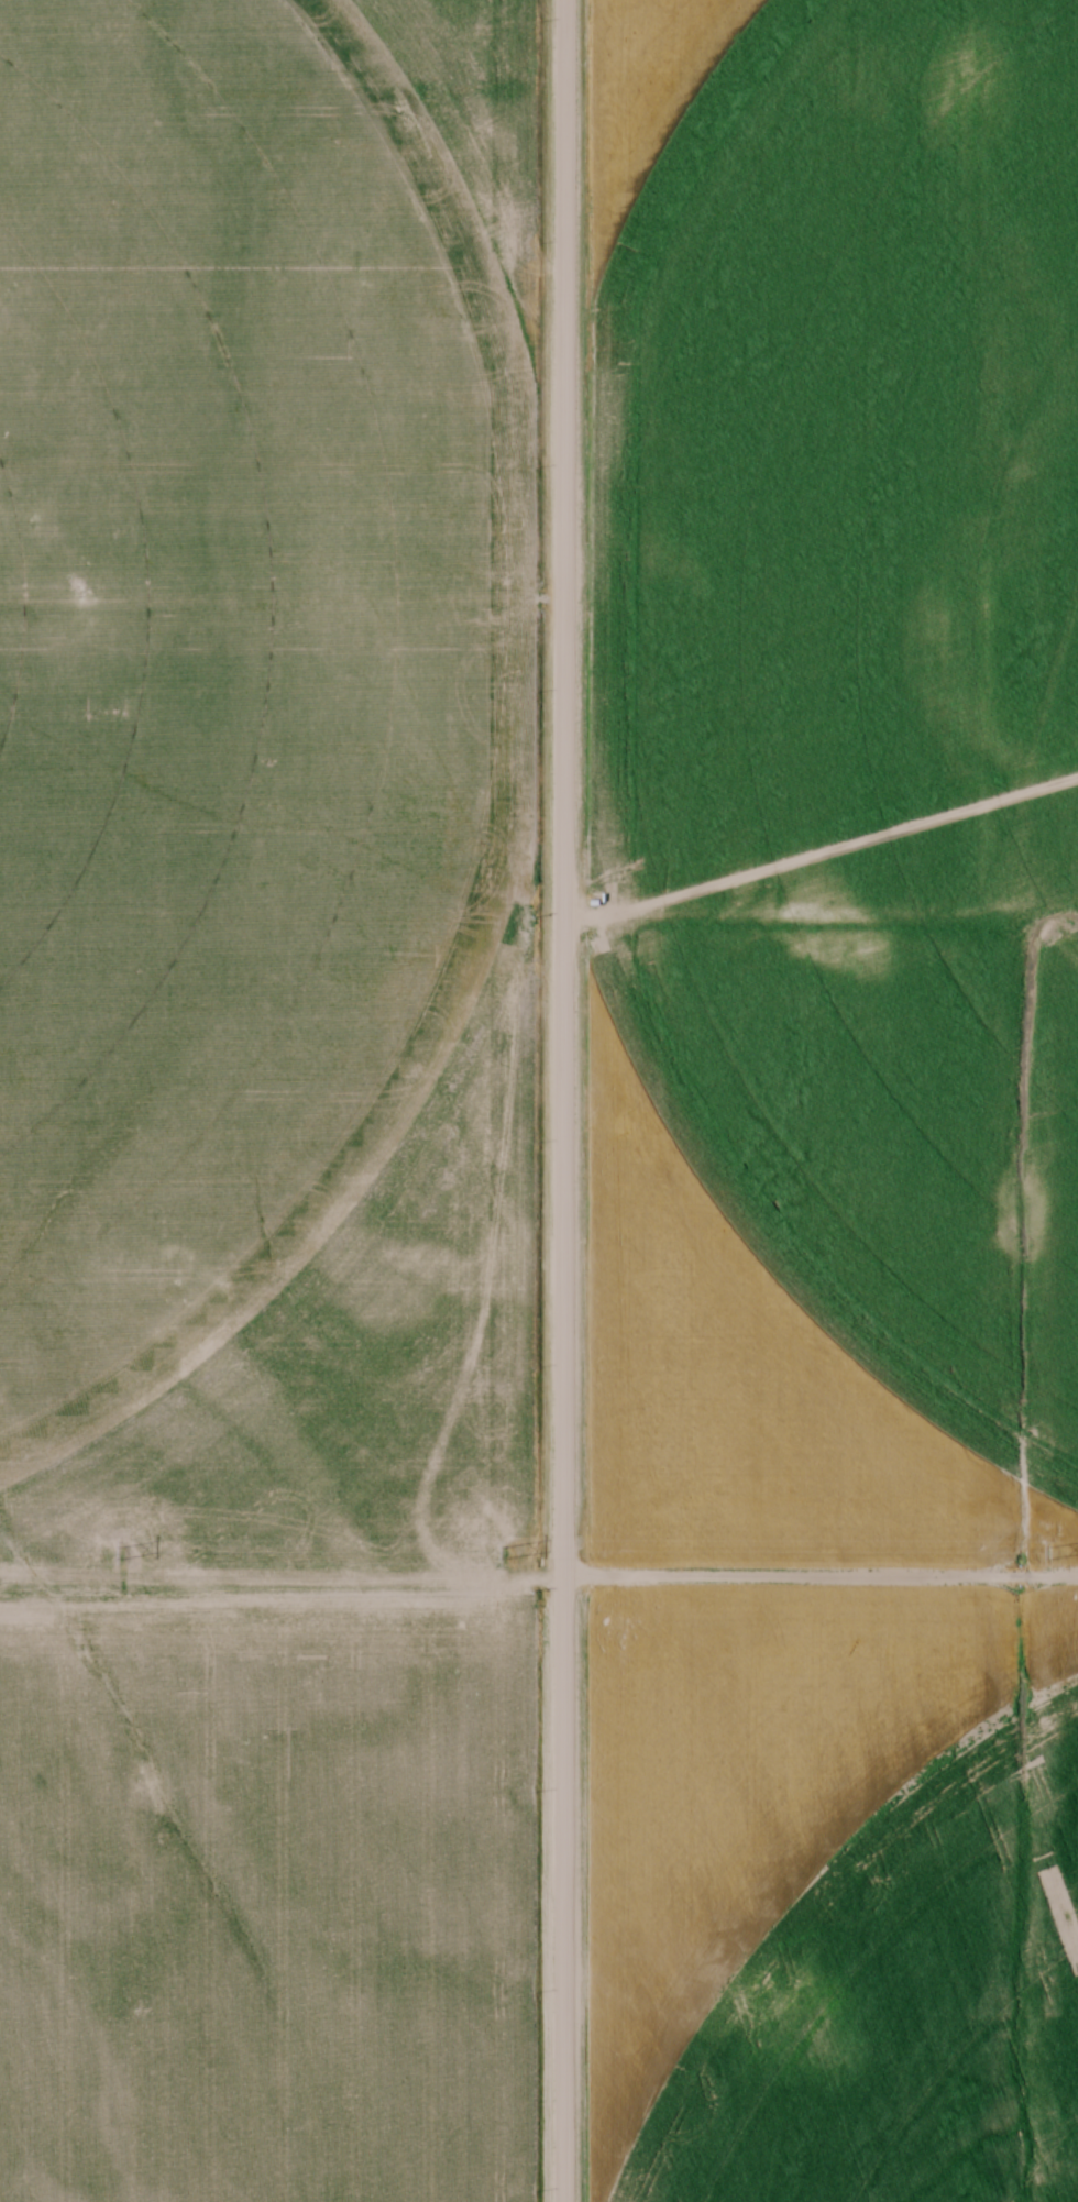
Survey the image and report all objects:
road: (568, 1100)
power tower: (1055, 1552)
power tower: (129, 1554)
power tower: (514, 1554)

